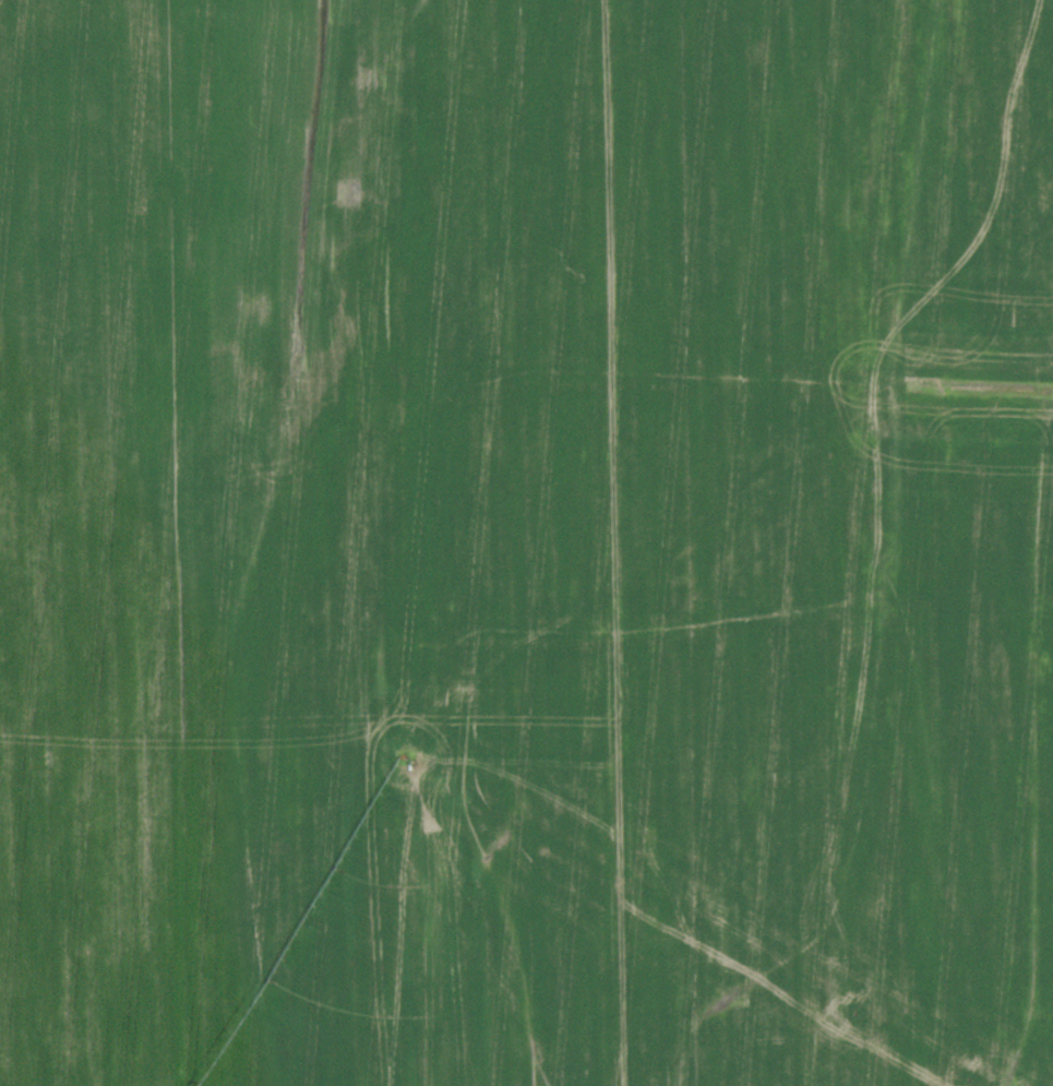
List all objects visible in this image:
road: (619, 542)

